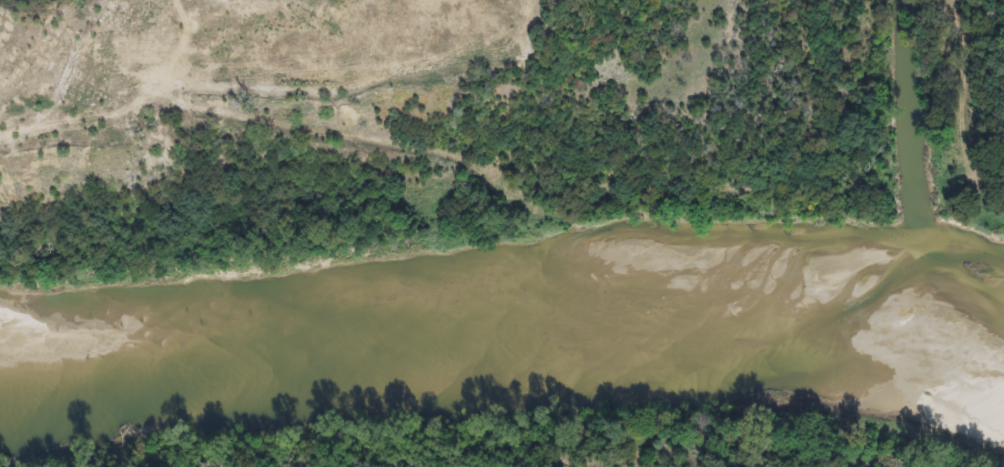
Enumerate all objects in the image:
river: (496, 285)

